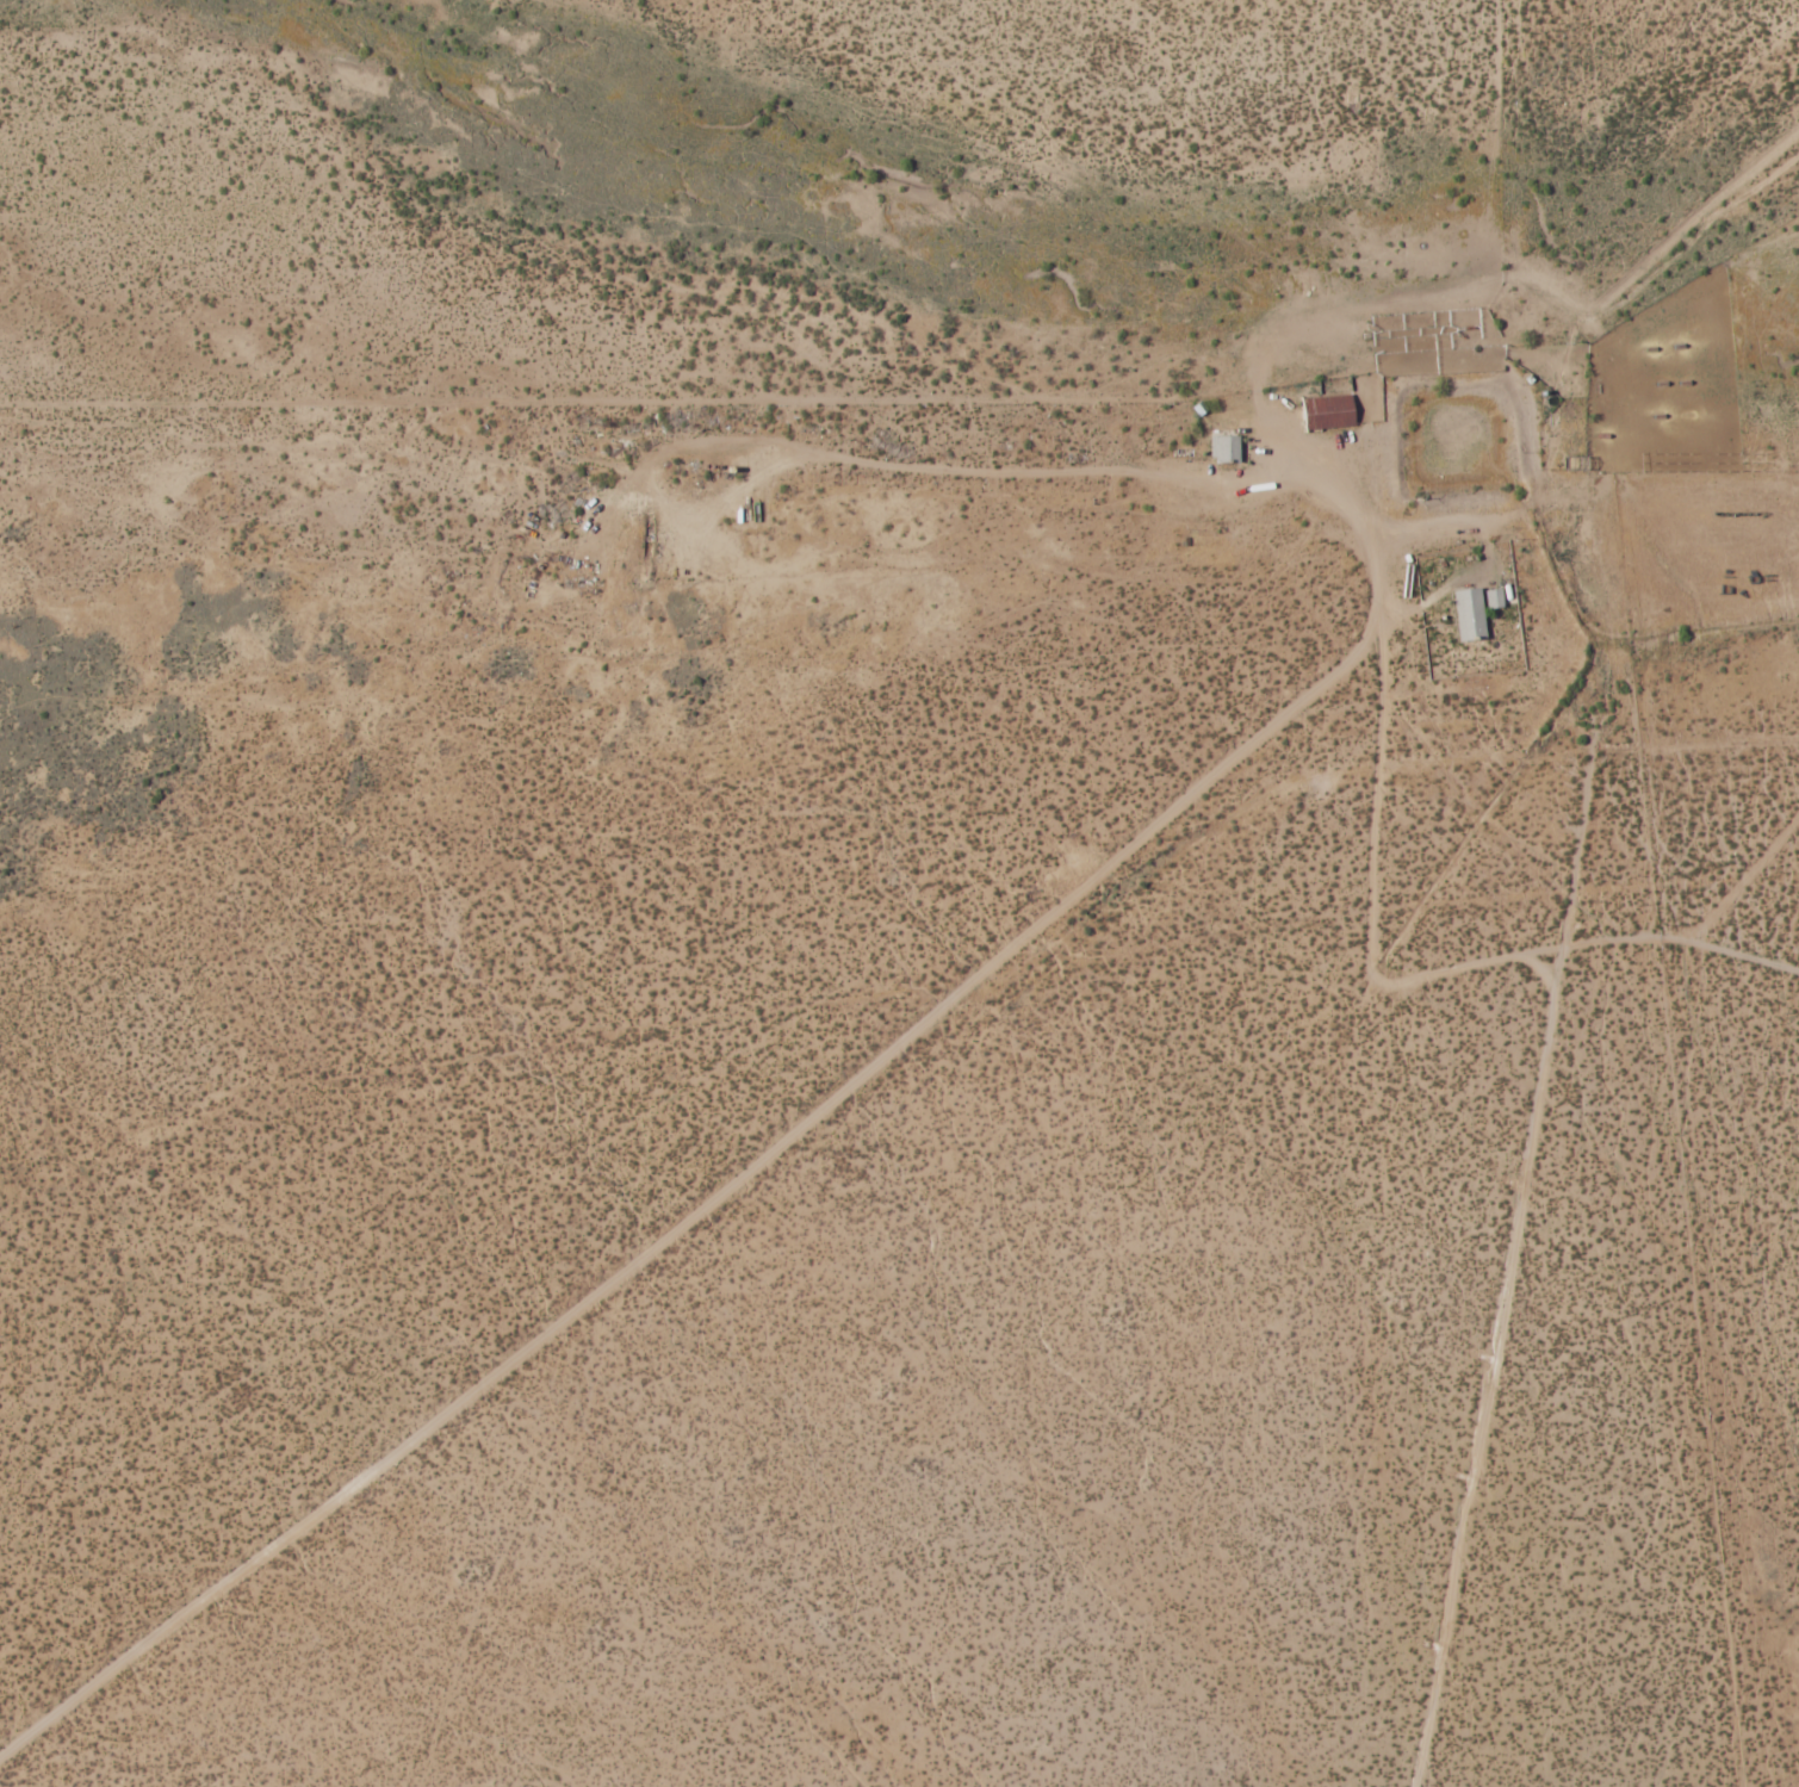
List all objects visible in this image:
road: (1605, 396)
building: (1328, 404)
building: (1224, 441)
road: (993, 461)
building: (1494, 590)
building: (1469, 607)
road: (1421, 964)
road: (740, 1171)
road: (1491, 1364)

